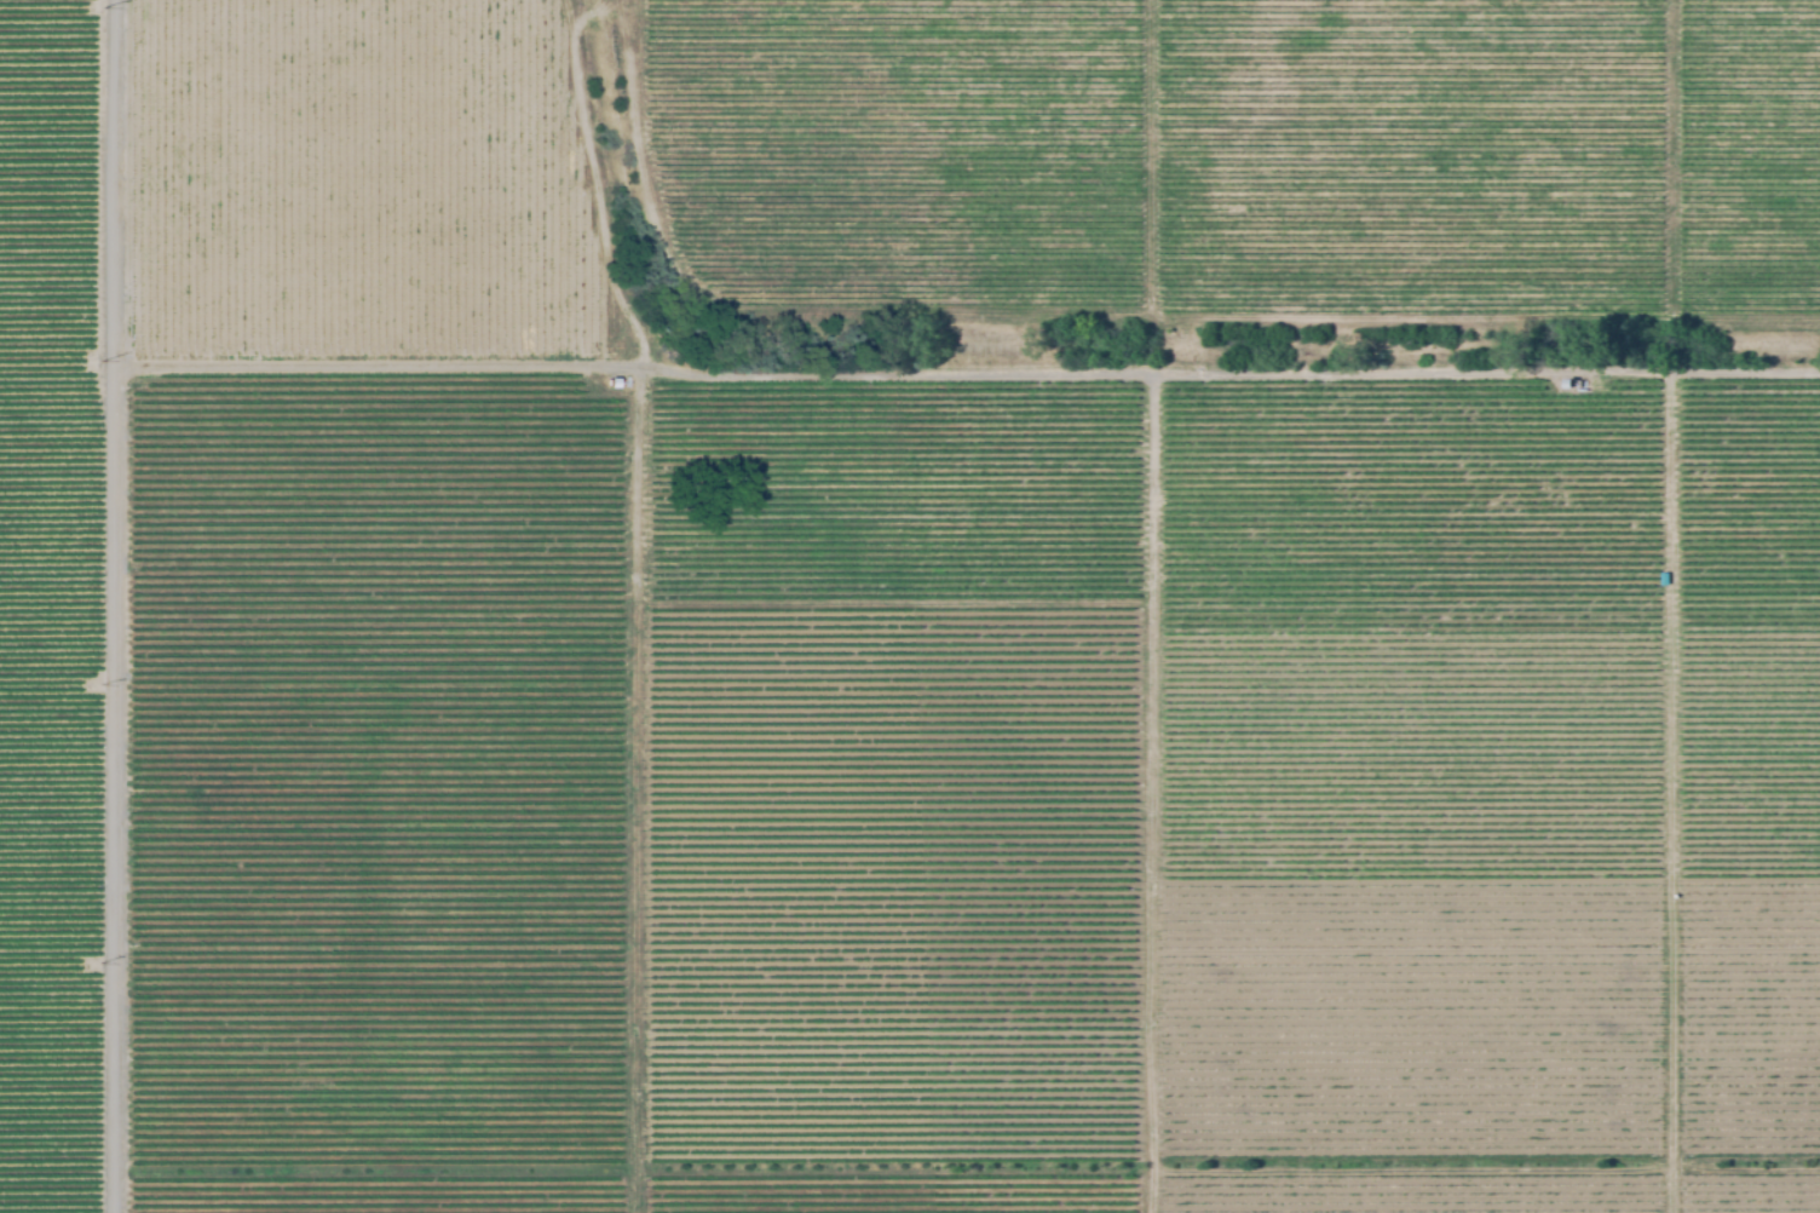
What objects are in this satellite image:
building: (609, 384)
building: (1567, 385)
road: (117, 605)

